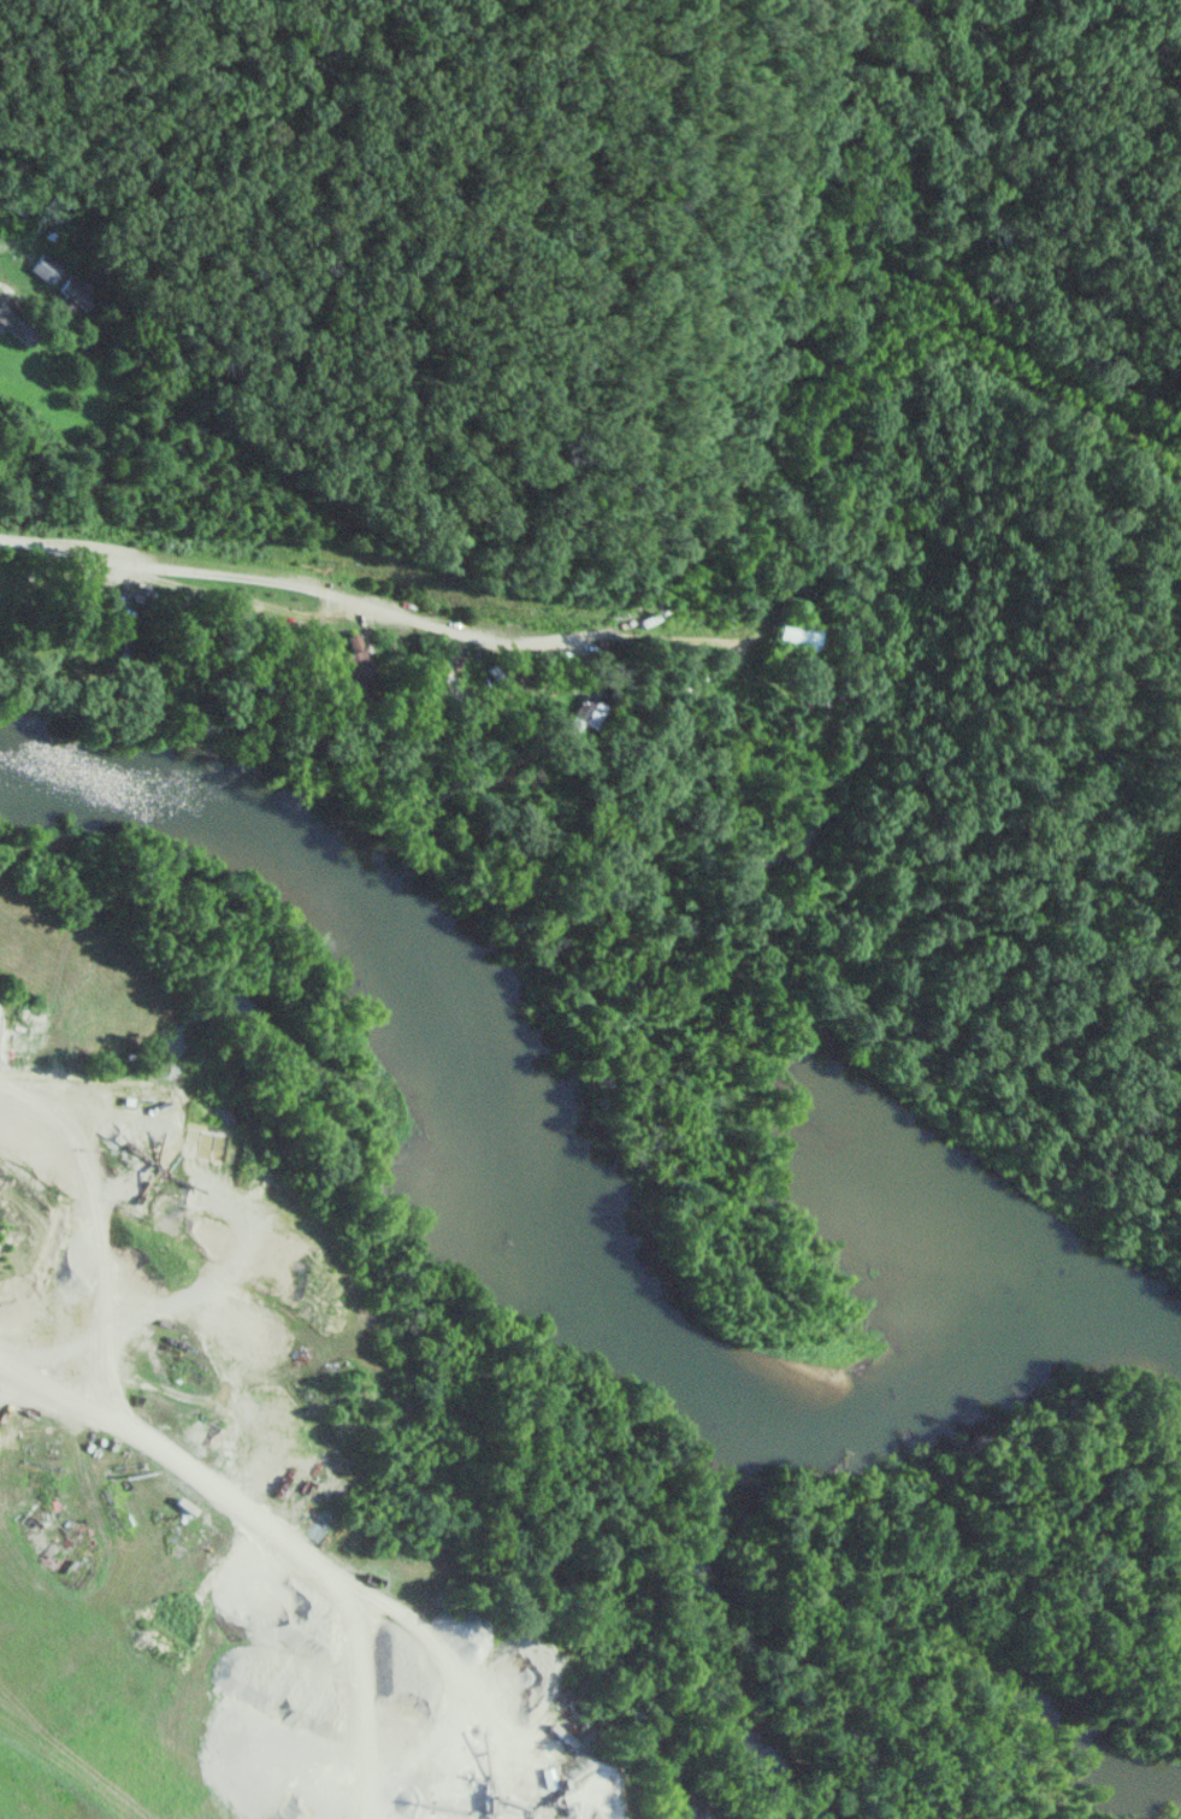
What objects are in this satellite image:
building: (47, 269)
building: (71, 295)
building: (18, 323)
road: (376, 602)
building: (793, 634)
building: (356, 661)
building: (583, 718)
river: (542, 1196)

